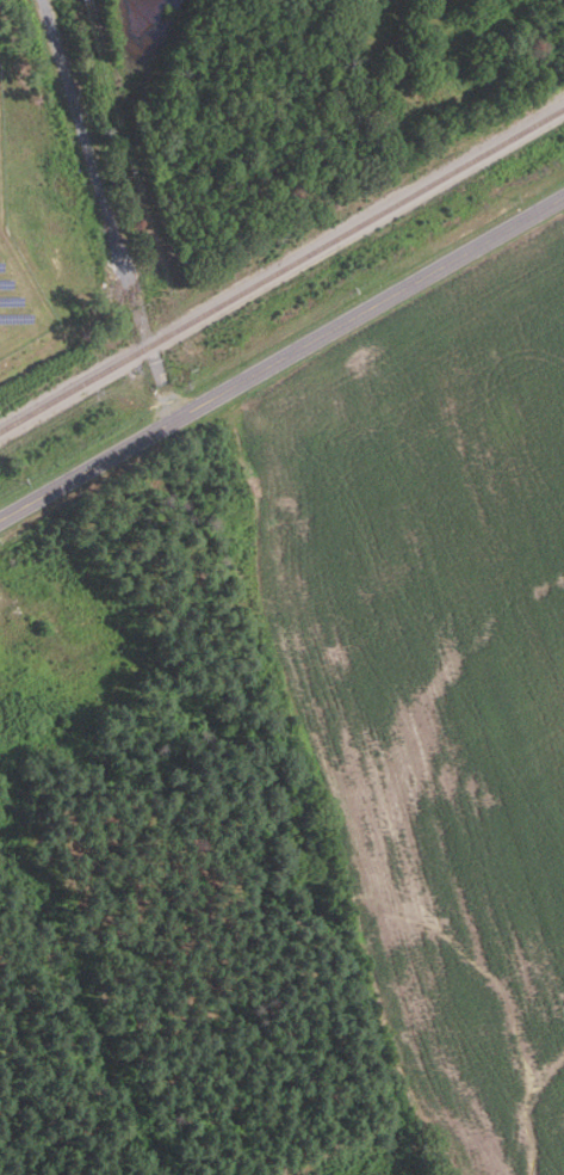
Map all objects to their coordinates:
road: (82, 135)
railway: (283, 271)
solar farm: (18, 281)
road: (281, 358)

